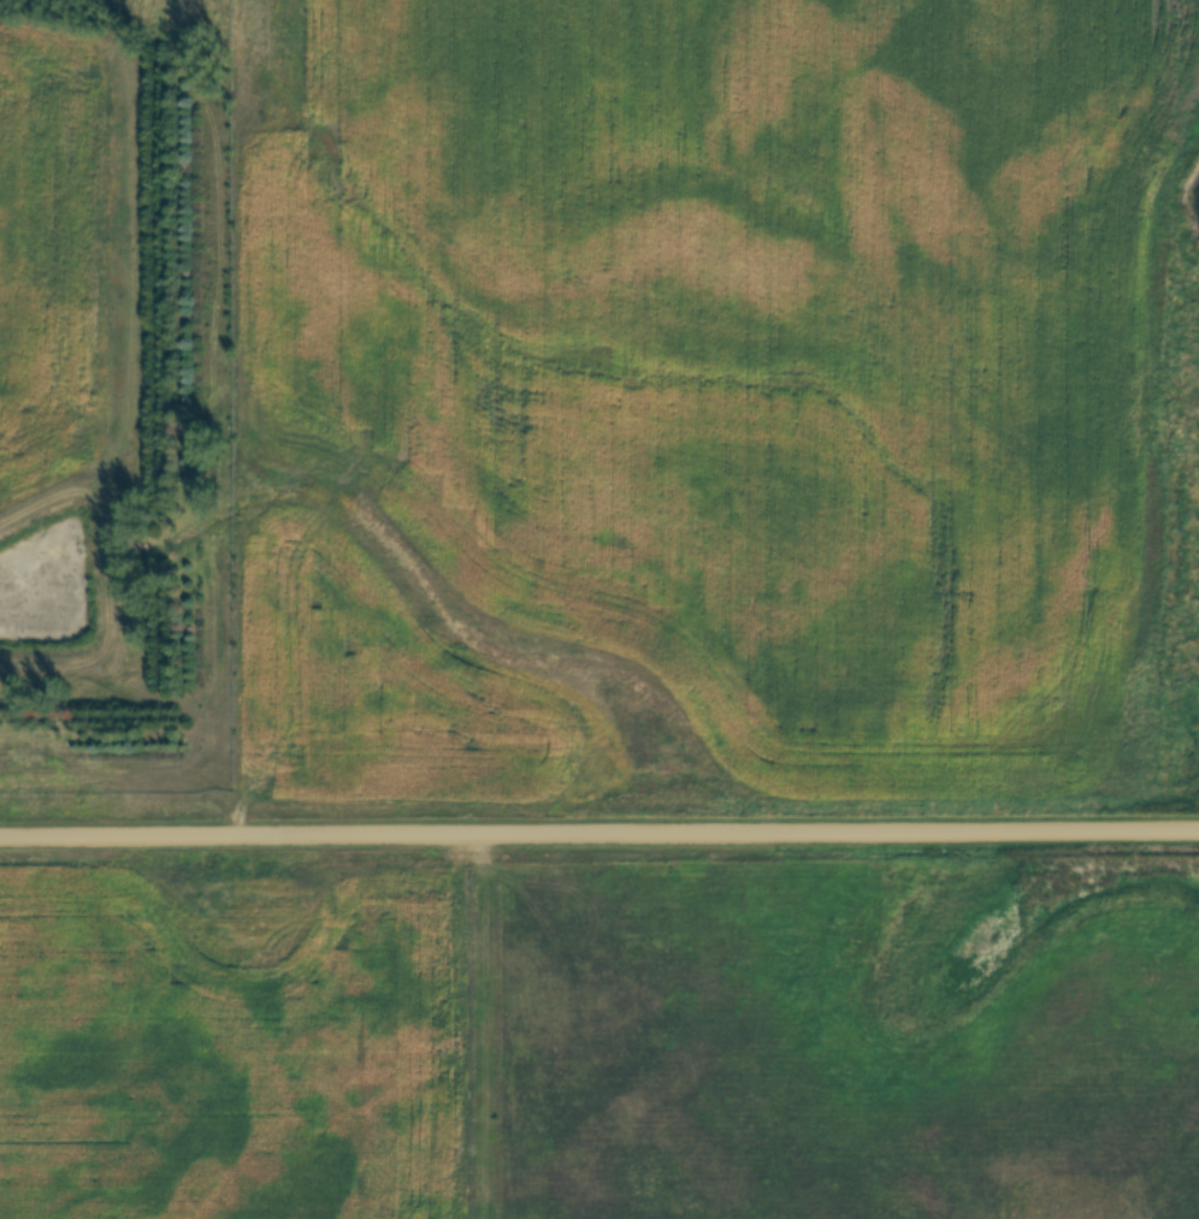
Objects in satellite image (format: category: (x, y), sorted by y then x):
crop: (64, 250)
crop: (702, 396)
road: (599, 833)

